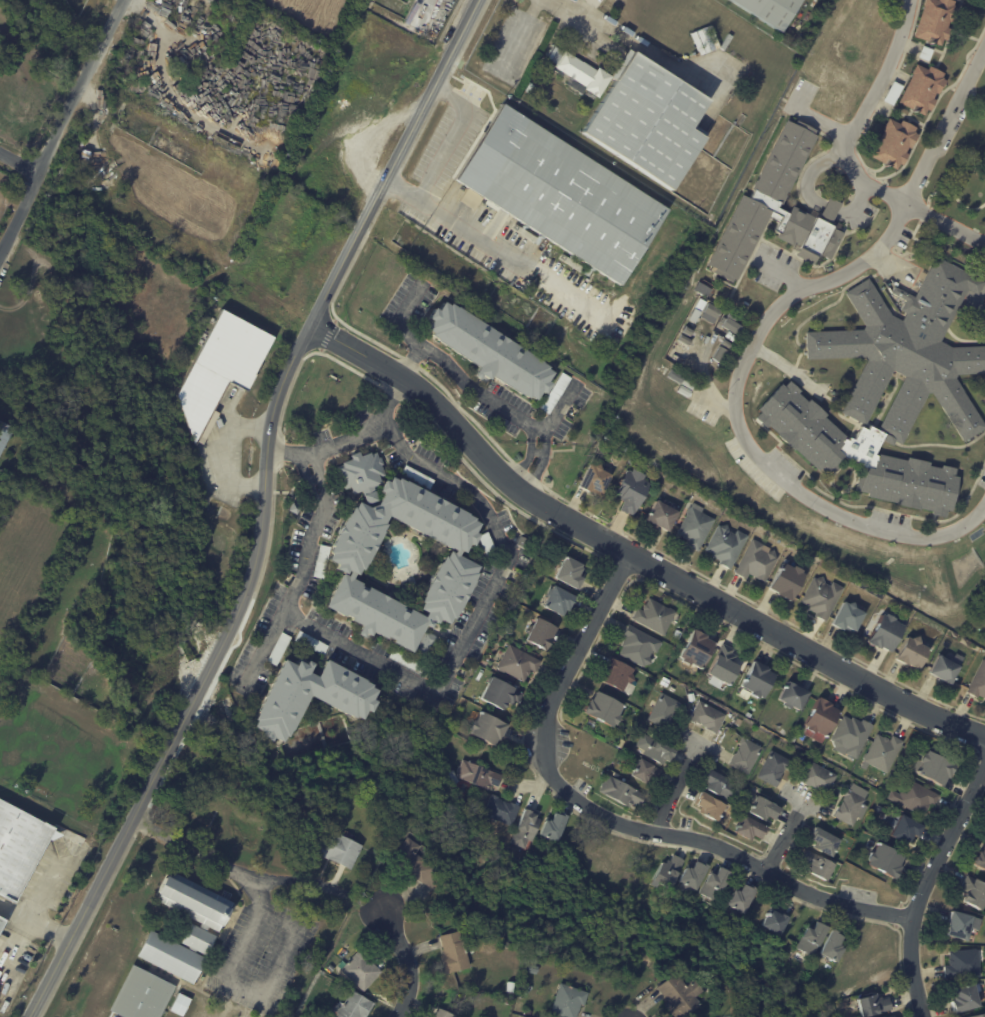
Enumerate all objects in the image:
building: (771, 10)
building: (932, 20)
road: (520, 33)
road: (637, 45)
building: (924, 52)
building: (528, 87)
building: (921, 88)
building: (891, 93)
building: (640, 114)
road: (63, 124)
road: (452, 137)
building: (893, 143)
building: (984, 151)
road: (19, 160)
road: (394, 162)
road: (925, 168)
road: (812, 170)
road: (409, 194)
building: (560, 194)
road: (859, 200)
road: (830, 207)
building: (777, 208)
road: (481, 240)
road: (783, 273)
road: (980, 299)
building: (428, 302)
building: (698, 310)
road: (774, 310)
building: (712, 313)
building: (732, 316)
building: (732, 325)
building: (689, 330)
building: (731, 336)
building: (685, 340)
building: (727, 344)
building: (491, 350)
building: (720, 355)
road: (409, 360)
building: (220, 371)
building: (689, 383)
road: (474, 388)
building: (926, 388)
building: (685, 390)
building: (556, 393)
building: (4, 435)
road: (227, 452)
road: (292, 454)
building: (632, 462)
building: (75, 470)
building: (360, 473)
building: (415, 475)
building: (596, 479)
building: (633, 491)
building: (295, 509)
road: (320, 515)
building: (663, 516)
building: (697, 526)
building: (488, 545)
building: (727, 545)
road: (633, 552)
building: (320, 559)
building: (758, 561)
building: (458, 564)
building: (571, 573)
building: (830, 577)
building: (788, 580)
building: (822, 597)
building: (559, 600)
building: (655, 616)
building: (849, 617)
road: (478, 618)
building: (678, 633)
building: (887, 633)
building: (541, 634)
building: (312, 643)
road: (581, 644)
building: (639, 645)
building: (425, 646)
building: (697, 648)
building: (281, 649)
building: (913, 652)
building: (410, 662)
building: (518, 664)
building: (723, 667)
building: (946, 668)
building: (617, 673)
building: (758, 680)
road: (204, 682)
building: (979, 683)
building: (502, 694)
building: (692, 696)
building: (794, 696)
building: (721, 700)
building: (347, 702)
building: (603, 708)
building: (664, 710)
building: (748, 714)
building: (707, 717)
building: (822, 718)
building: (738, 722)
building: (489, 730)
building: (851, 735)
building: (793, 737)
road: (697, 741)
building: (621, 743)
building: (656, 749)
building: (883, 752)
building: (746, 755)
building: (804, 763)
building: (932, 767)
building: (774, 768)
building: (647, 771)
building: (476, 773)
building: (819, 777)
building: (719, 783)
road: (676, 784)
building: (621, 791)
building: (915, 797)
road: (802, 799)
building: (710, 805)
building: (765, 807)
building: (849, 807)
building: (880, 808)
building: (502, 811)
building: (721, 819)
building: (752, 827)
building: (554, 828)
building: (906, 828)
building: (526, 830)
road: (785, 834)
road: (714, 841)
building: (824, 841)
building: (18, 846)
building: (339, 847)
building: (886, 859)
building: (980, 859)
building: (414, 863)
building: (818, 864)
road: (235, 871)
building: (668, 873)
building: (693, 876)
building: (716, 884)
road: (925, 890)
building: (974, 892)
building: (743, 898)
road: (368, 902)
building: (1, 921)
building: (776, 921)
road: (33, 924)
building: (957, 924)
road: (251, 927)
building: (814, 937)
road: (291, 938)
building: (834, 946)
building: (173, 947)
building: (455, 951)
road: (408, 962)
building: (965, 964)
building: (532, 968)
building: (361, 970)
building: (984, 983)
building: (510, 987)
building: (710, 988)
building: (783, 991)
building: (681, 995)
building: (967, 997)
building: (507, 1000)
building: (569, 1000)
building: (180, 1004)
building: (873, 1004)
building: (355, 1005)
building: (529, 1012)
building: (313, 1013)
building: (443, 1013)
building: (979, 1015)
building: (525, 1016)
building: (881, 1016)

